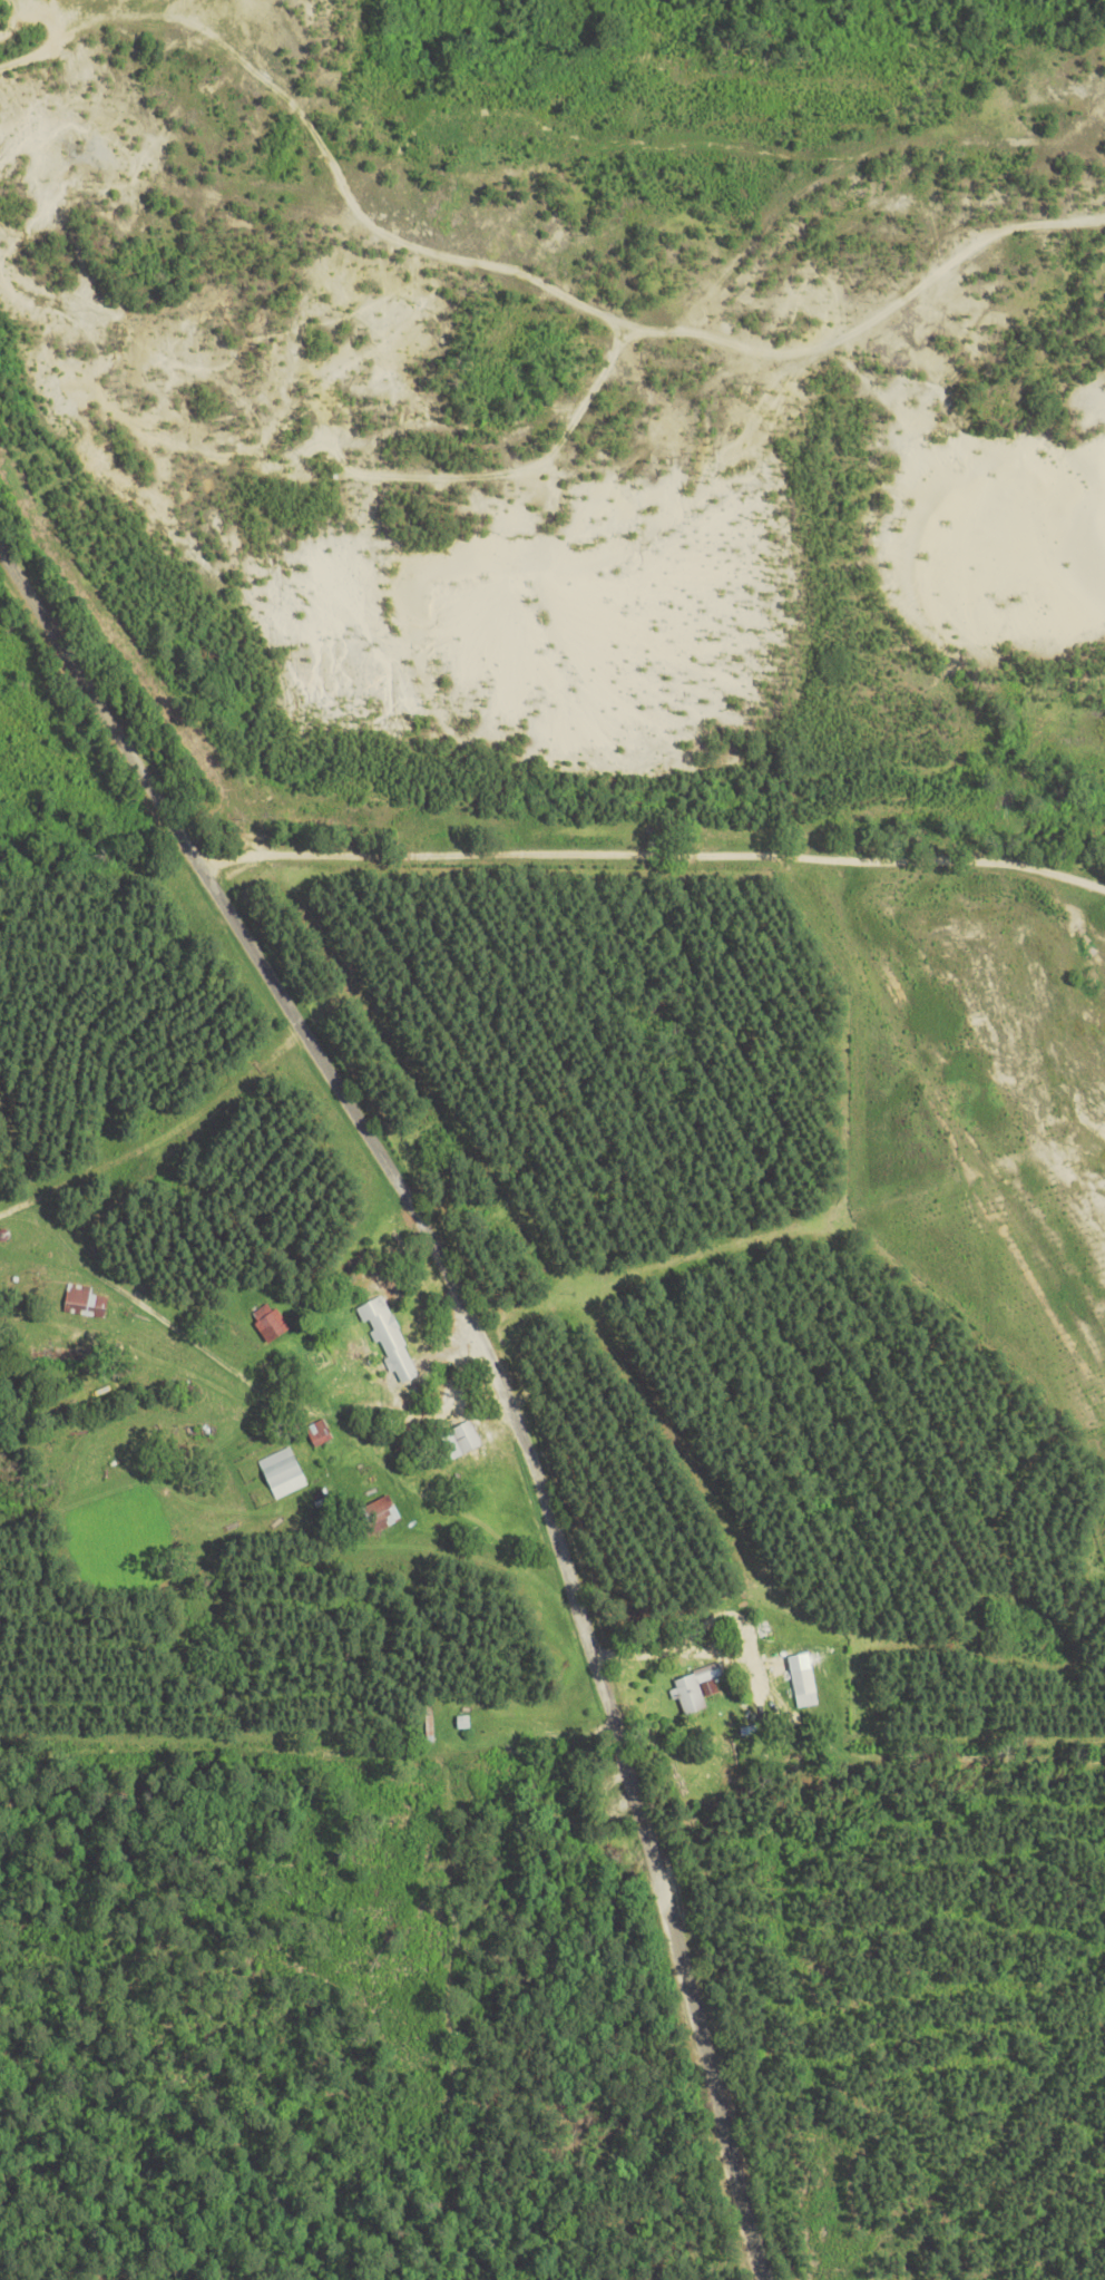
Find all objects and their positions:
road: (1, 199)
building: (78, 1299)
building: (271, 1323)
building: (390, 1339)
road: (493, 1366)
building: (320, 1433)
building: (468, 1438)
building: (283, 1473)
building: (379, 1516)
building: (804, 1682)
building: (694, 1689)
building: (465, 1722)
building: (430, 1726)

